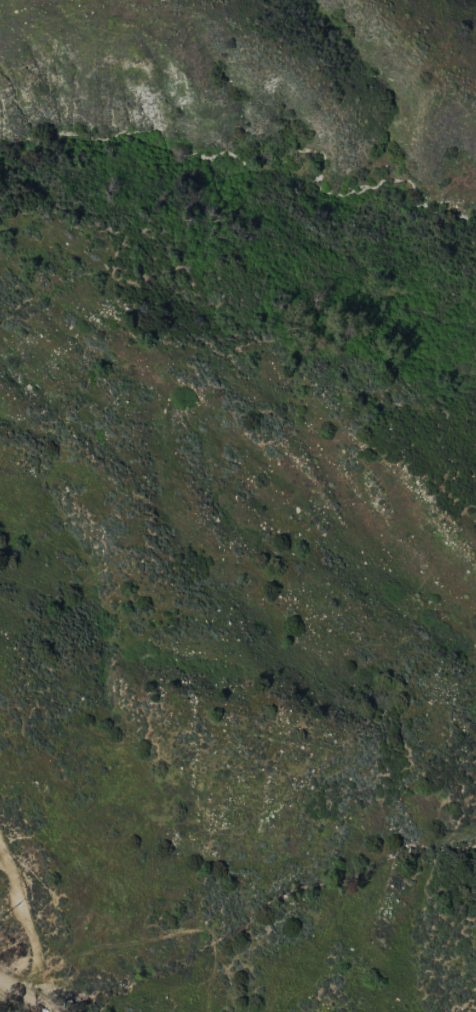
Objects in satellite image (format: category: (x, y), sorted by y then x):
road: (14, 1001)

